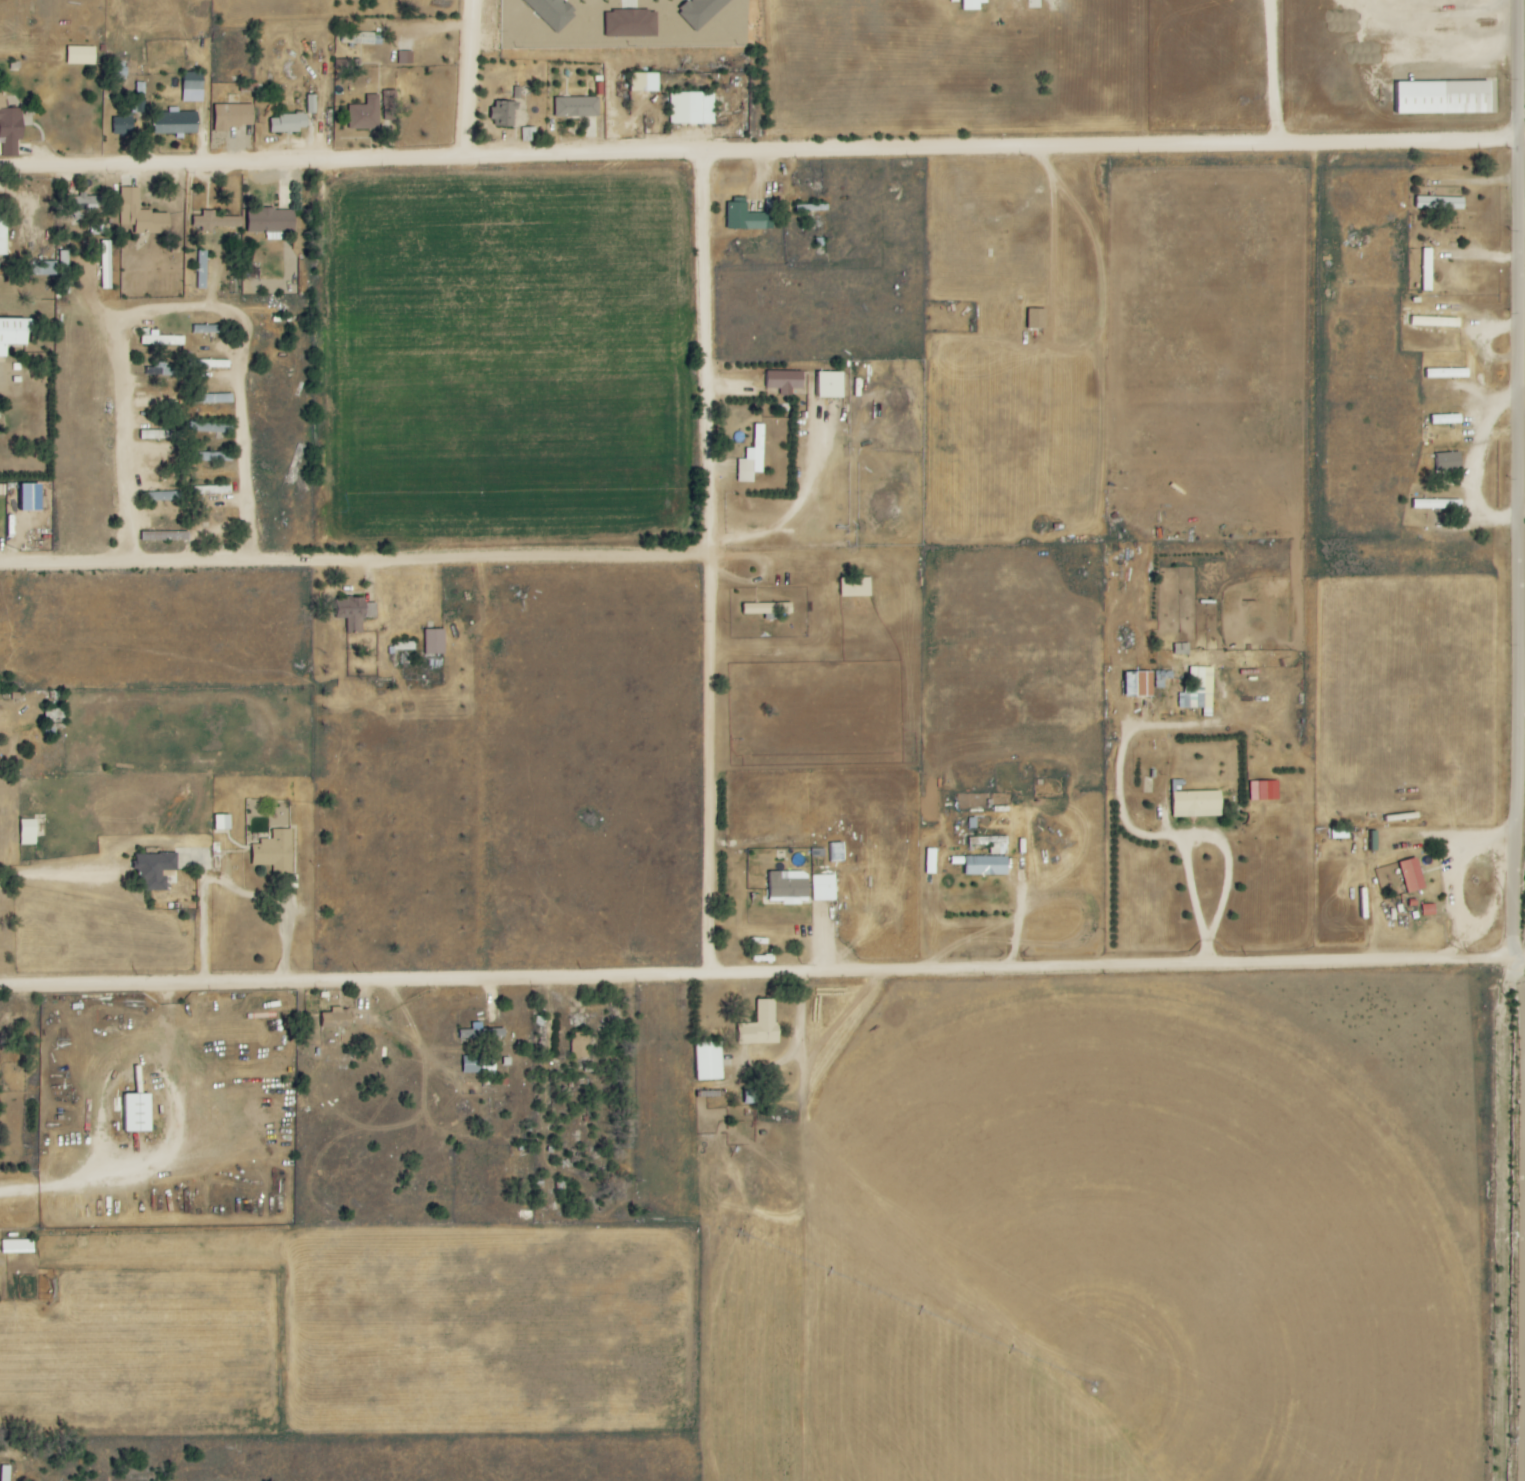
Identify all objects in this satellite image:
building: (972, 4)
building: (700, 11)
building: (553, 12)
building: (632, 23)
building: (362, 38)
building: (81, 55)
building: (406, 58)
road: (1519, 68)
road: (1273, 73)
road: (480, 80)
building: (645, 82)
building: (193, 87)
building: (1443, 97)
building: (311, 104)
building: (390, 105)
building: (577, 107)
building: (506, 108)
building: (692, 108)
building: (365, 114)
building: (234, 116)
building: (176, 123)
building: (288, 123)
building: (123, 125)
building: (10, 128)
building: (528, 134)
road: (1287, 146)
road: (528, 159)
building: (1441, 203)
building: (89, 205)
building: (141, 214)
building: (747, 218)
building: (217, 221)
building: (271, 222)
road: (1002, 226)
building: (3, 234)
building: (203, 264)
building: (106, 265)
building: (44, 268)
building: (1426, 270)
building: (64, 272)
road: (186, 313)
building: (1037, 318)
building: (1435, 322)
building: (12, 334)
building: (161, 339)
building: (163, 371)
building: (1447, 373)
building: (829, 385)
building: (218, 399)
building: (1445, 419)
building: (211, 427)
building: (161, 435)
building: (753, 457)
road: (1472, 458)
building: (1449, 461)
building: (162, 467)
building: (212, 490)
building: (161, 497)
building: (30, 498)
building: (165, 536)
road: (358, 562)
road: (717, 563)
road: (1517, 579)
road: (780, 584)
building: (856, 588)
building: (768, 608)
building: (356, 613)
building: (435, 642)
building: (404, 646)
building: (1182, 649)
building: (1140, 684)
building: (1199, 691)
road: (1128, 780)
building: (1264, 790)
building: (1197, 804)
building: (222, 822)
building: (28, 832)
road: (1221, 839)
building: (994, 844)
building: (275, 852)
building: (837, 852)
building: (931, 861)
building: (983, 865)
road: (805, 868)
building: (155, 870)
building: (1407, 875)
road: (232, 886)
building: (790, 886)
building: (824, 887)
road: (1020, 898)
power tower: (1464, 951)
power tower: (1242, 954)
road: (1519, 955)
power tower: (1021, 957)
power tower: (798, 961)
power tower: (576, 965)
power tower: (355, 968)
power tower: (133, 972)
road: (757, 977)
building: (336, 1018)
building: (761, 1025)
building: (580, 1045)
road: (806, 1045)
building: (709, 1061)
building: (750, 1096)
building: (137, 1113)
road: (165, 1156)
building: (17, 1246)
building: (4, 1478)

